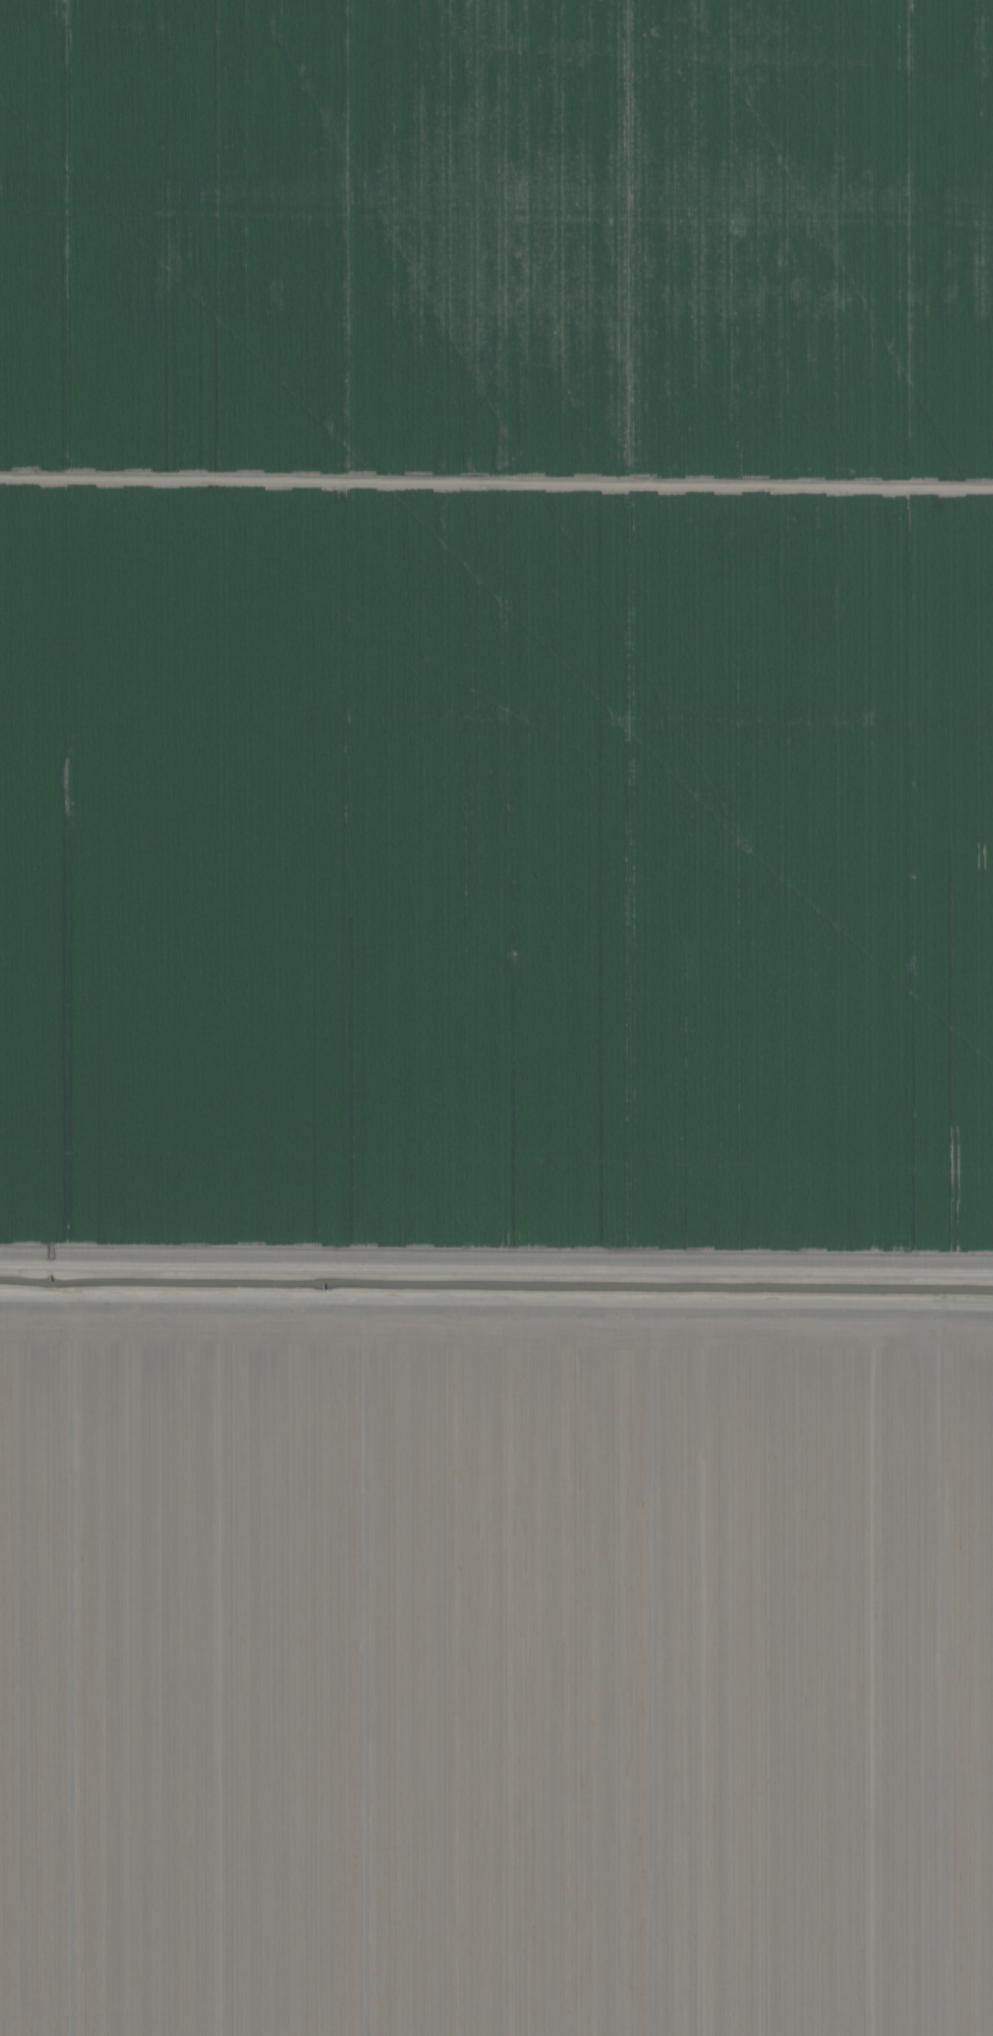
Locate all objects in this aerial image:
crop: (496, 1018)
road: (496, 1271)

